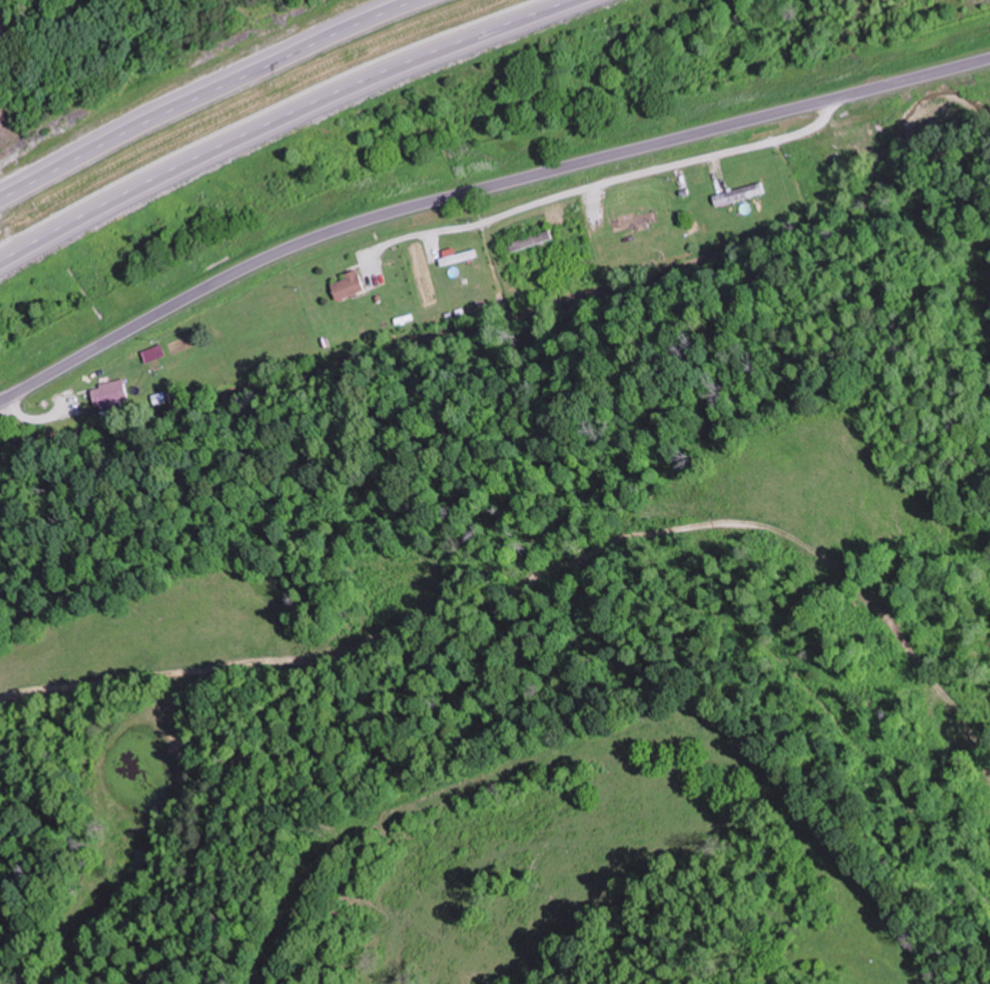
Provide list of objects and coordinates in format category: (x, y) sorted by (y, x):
building: (1, 27)
road: (203, 93)
road: (286, 120)
road: (479, 186)
building: (738, 193)
building: (530, 240)
building: (347, 285)
building: (108, 392)

